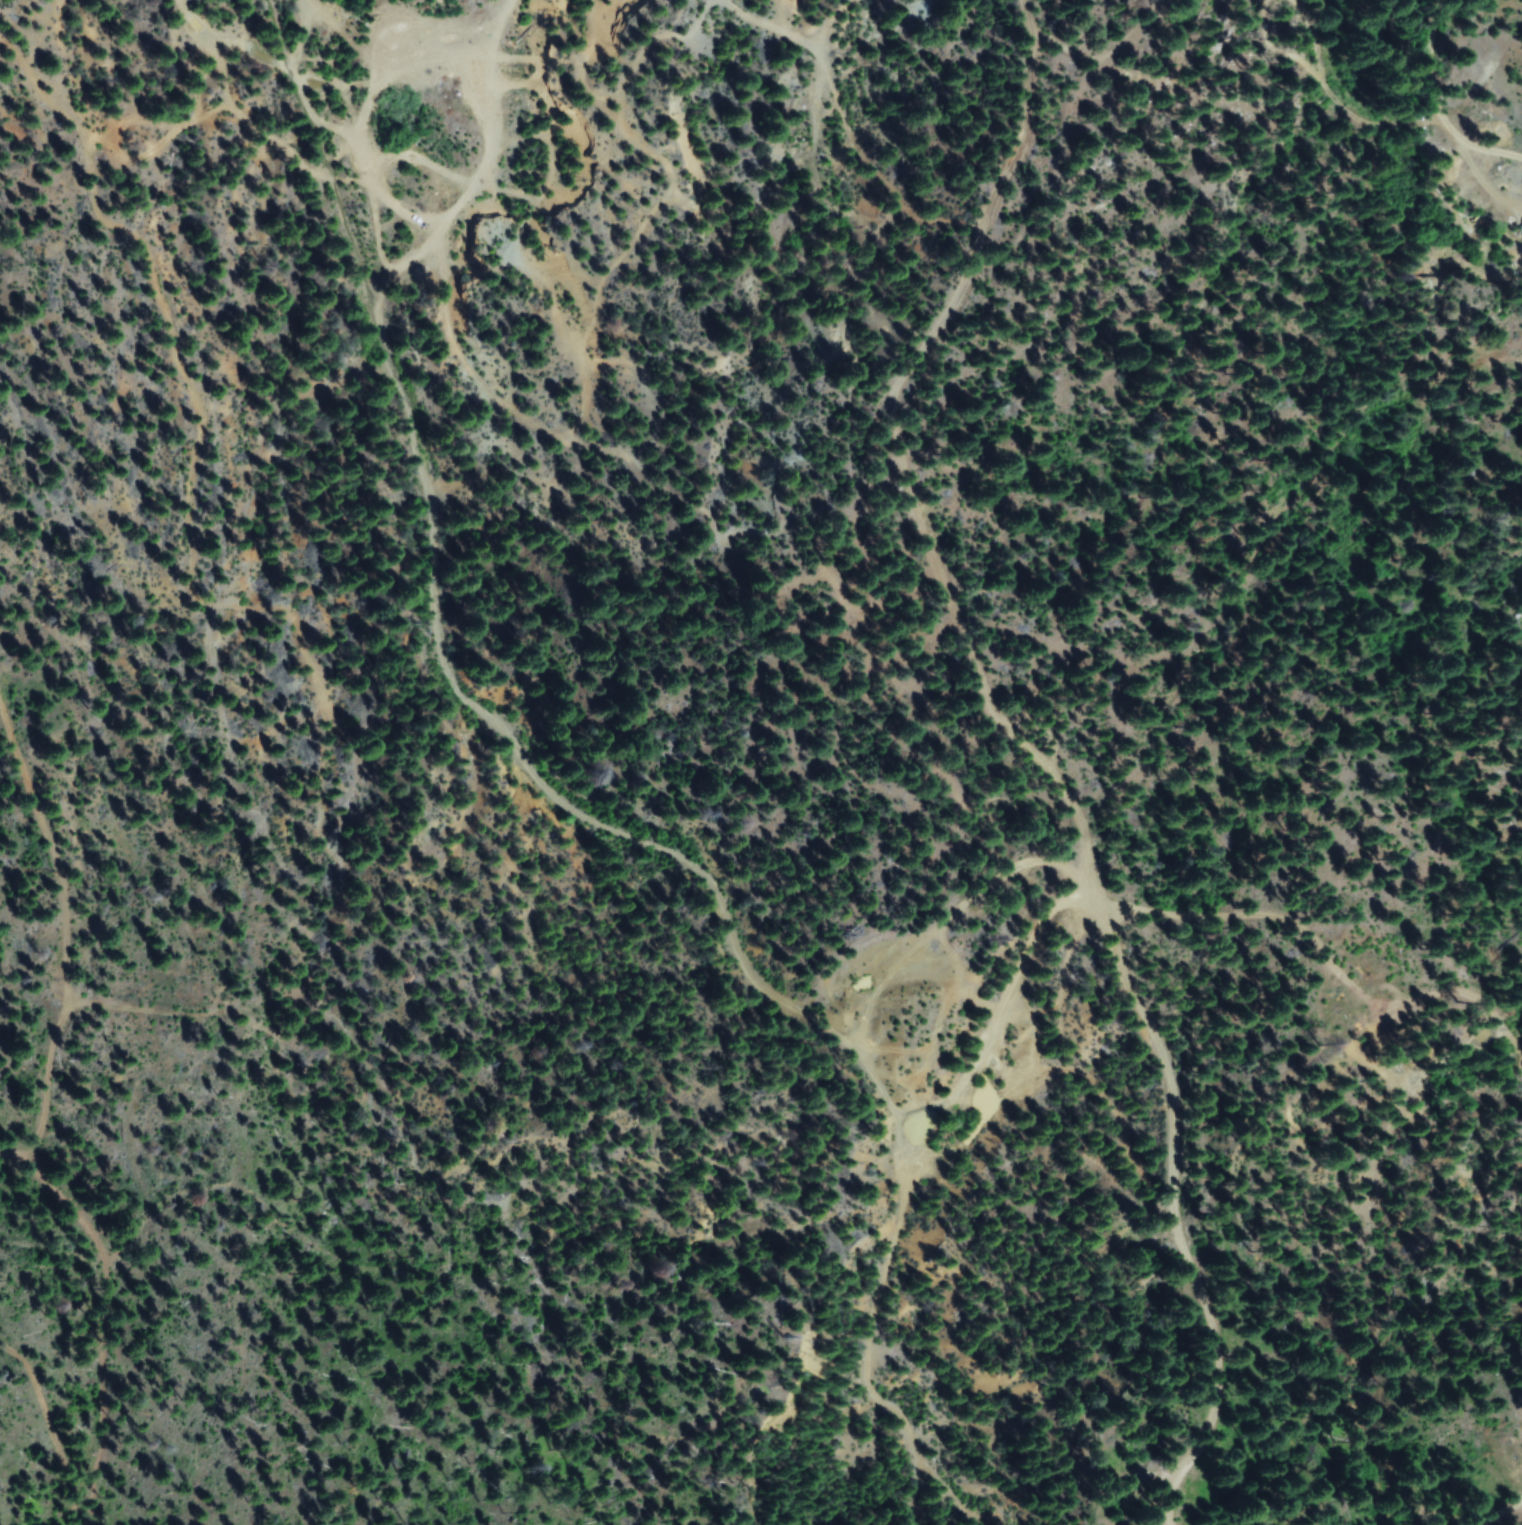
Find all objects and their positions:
road: (1195, 1511)

